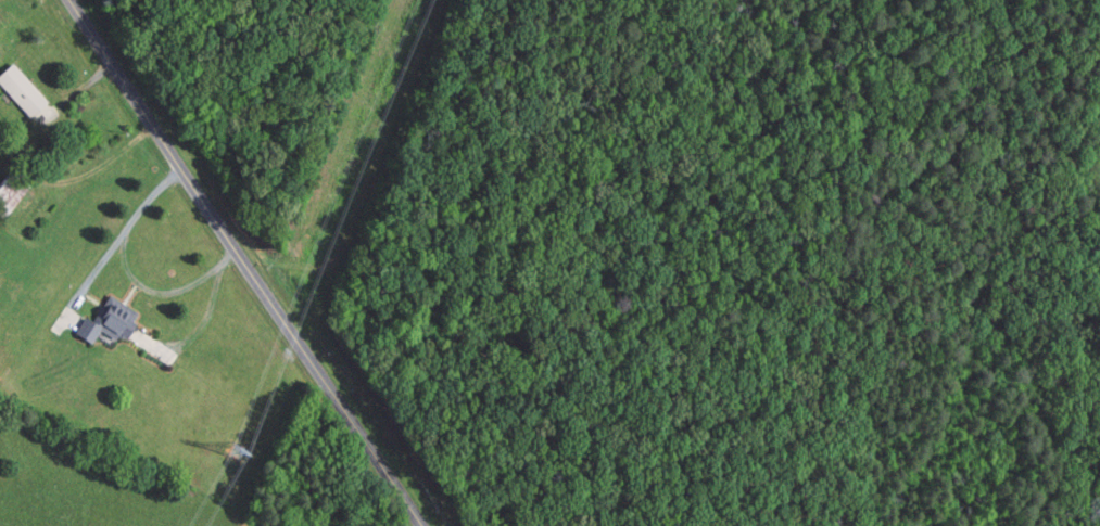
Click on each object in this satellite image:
building: (26, 94)
road: (243, 262)
road: (129, 271)
building: (111, 320)
power tower: (236, 447)

